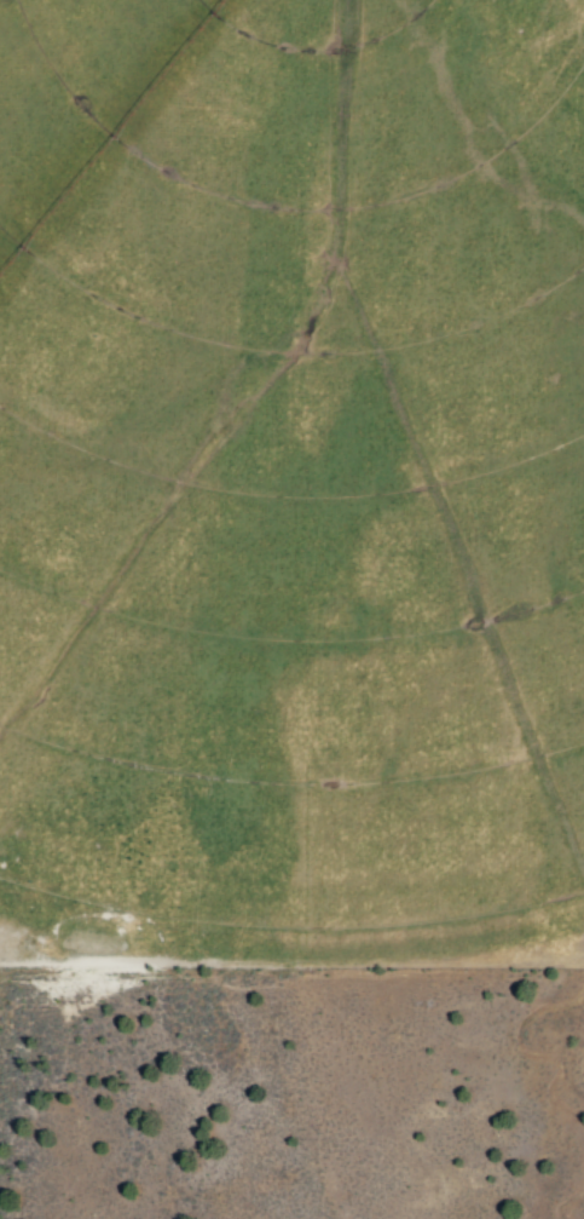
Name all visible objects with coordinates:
crop: (291, 485)

